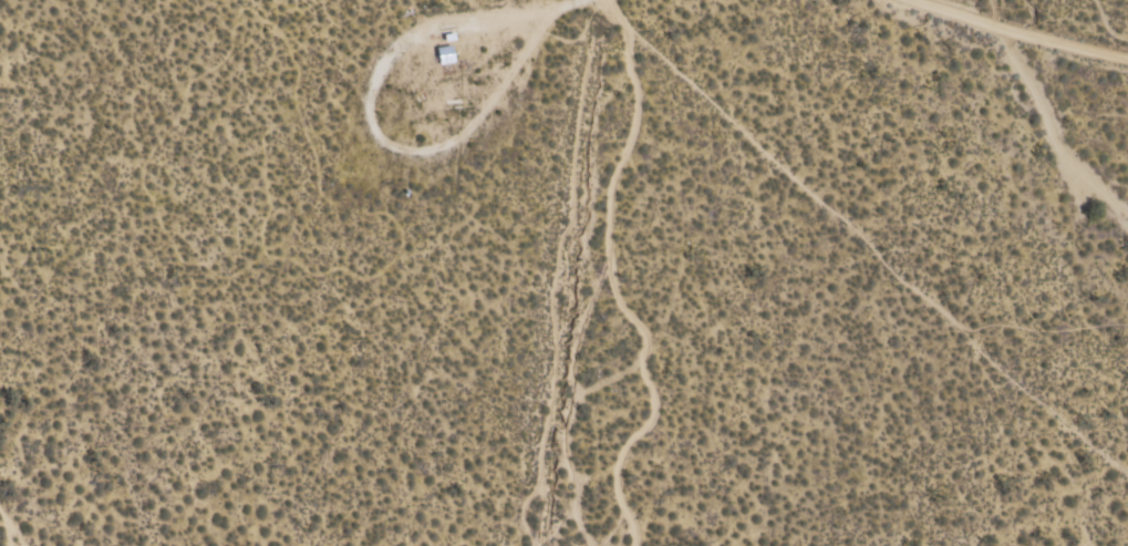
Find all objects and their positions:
road: (1018, 34)
road: (567, 272)

